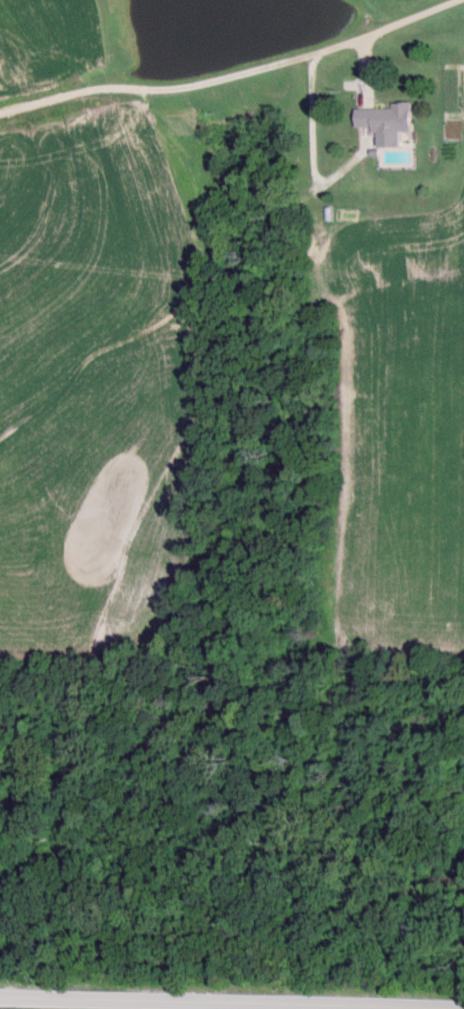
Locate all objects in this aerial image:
road: (233, 76)
building: (386, 124)
road: (211, 1002)

